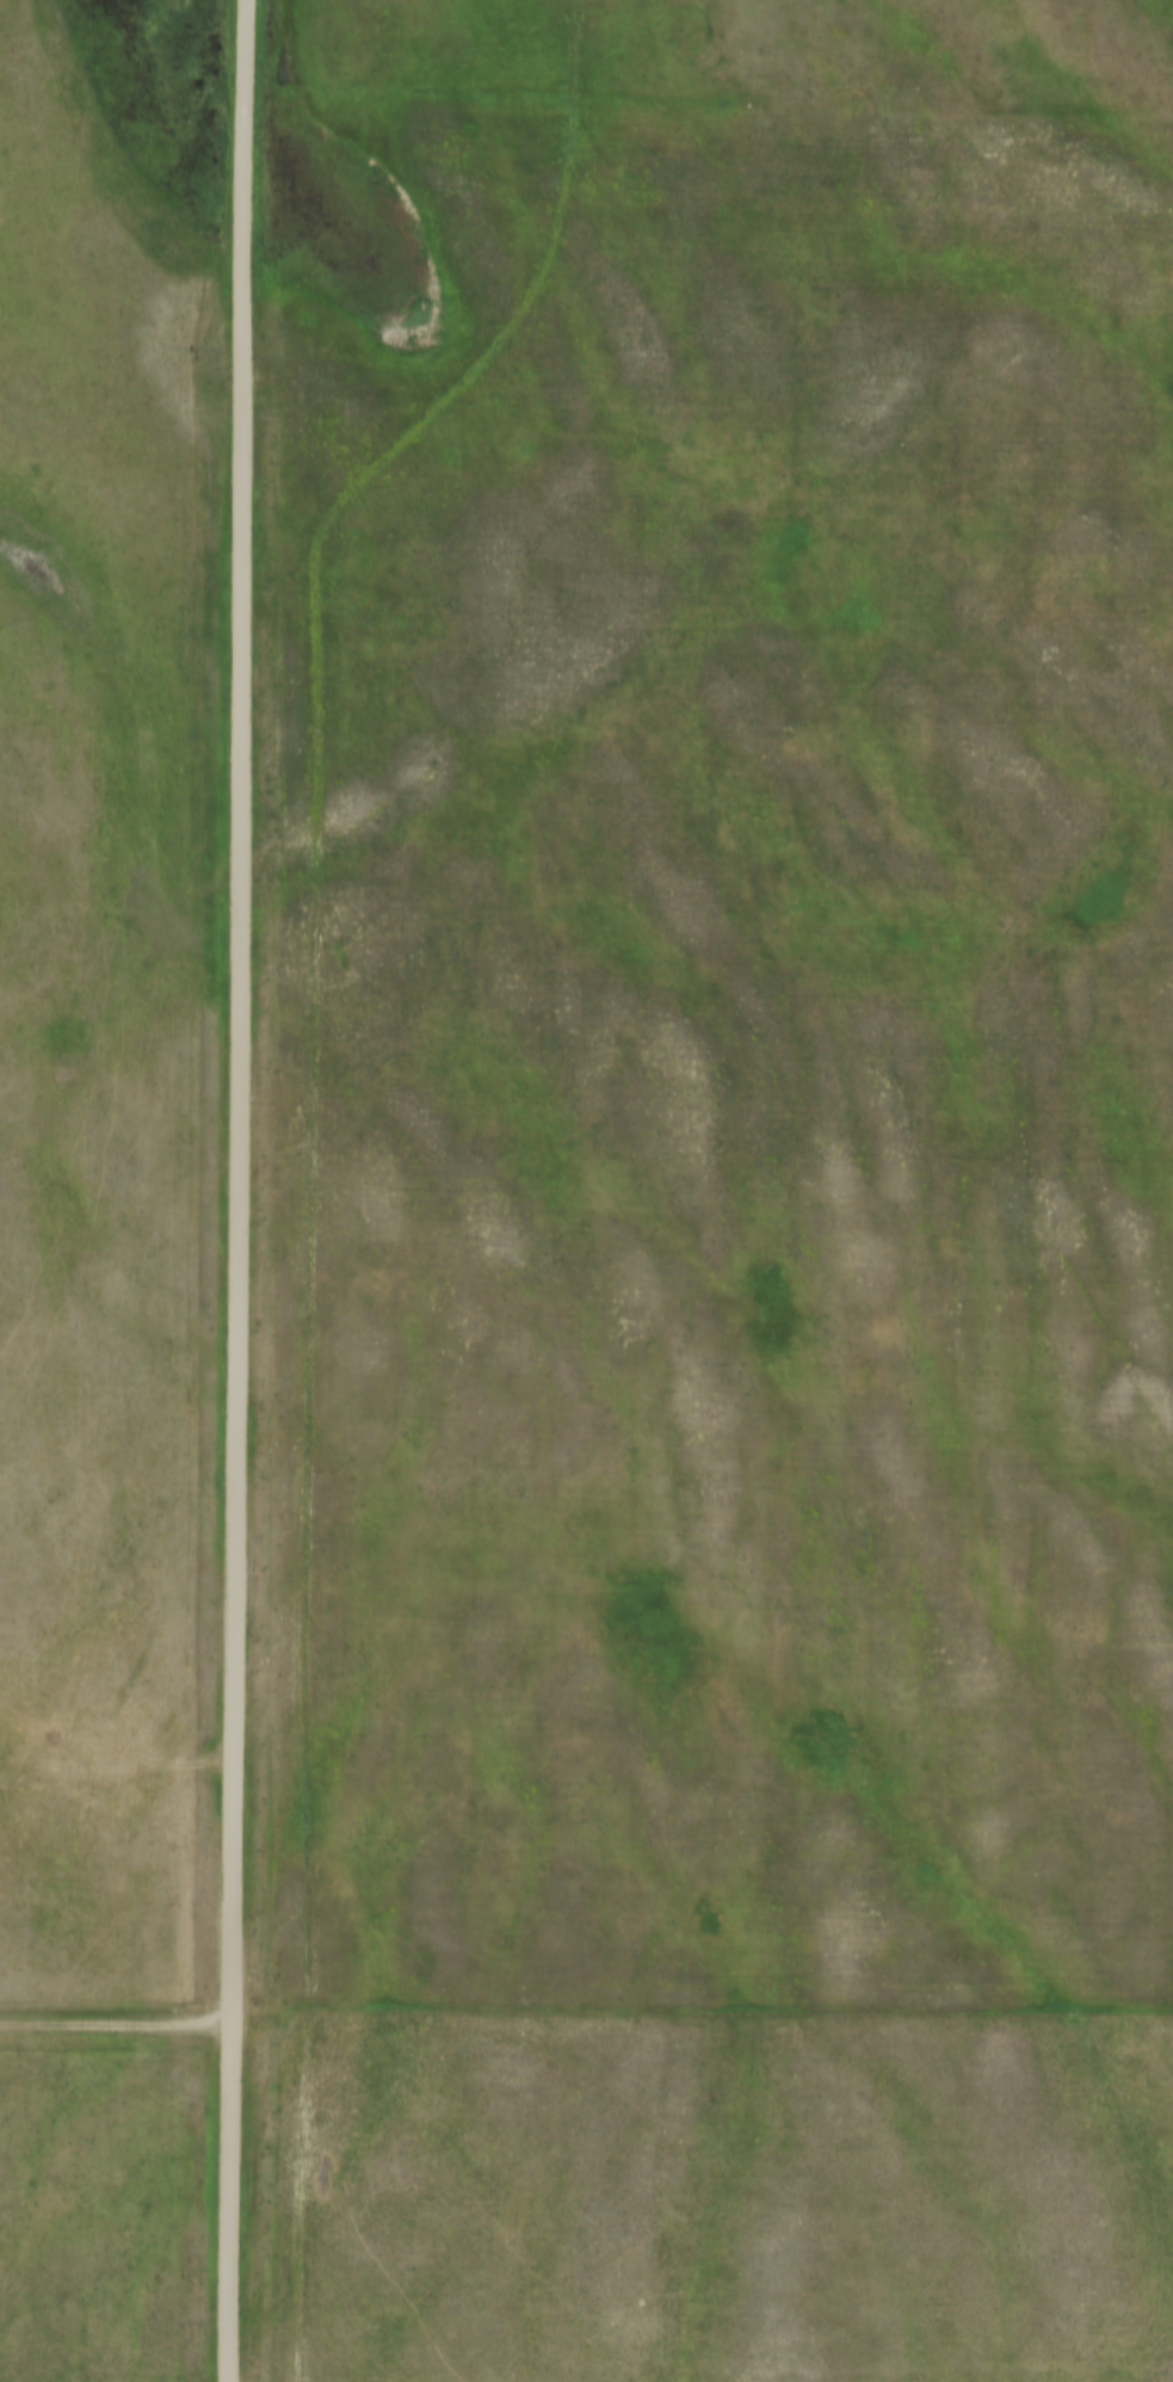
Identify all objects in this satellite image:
road: (243, 1191)
road: (118, 2028)

